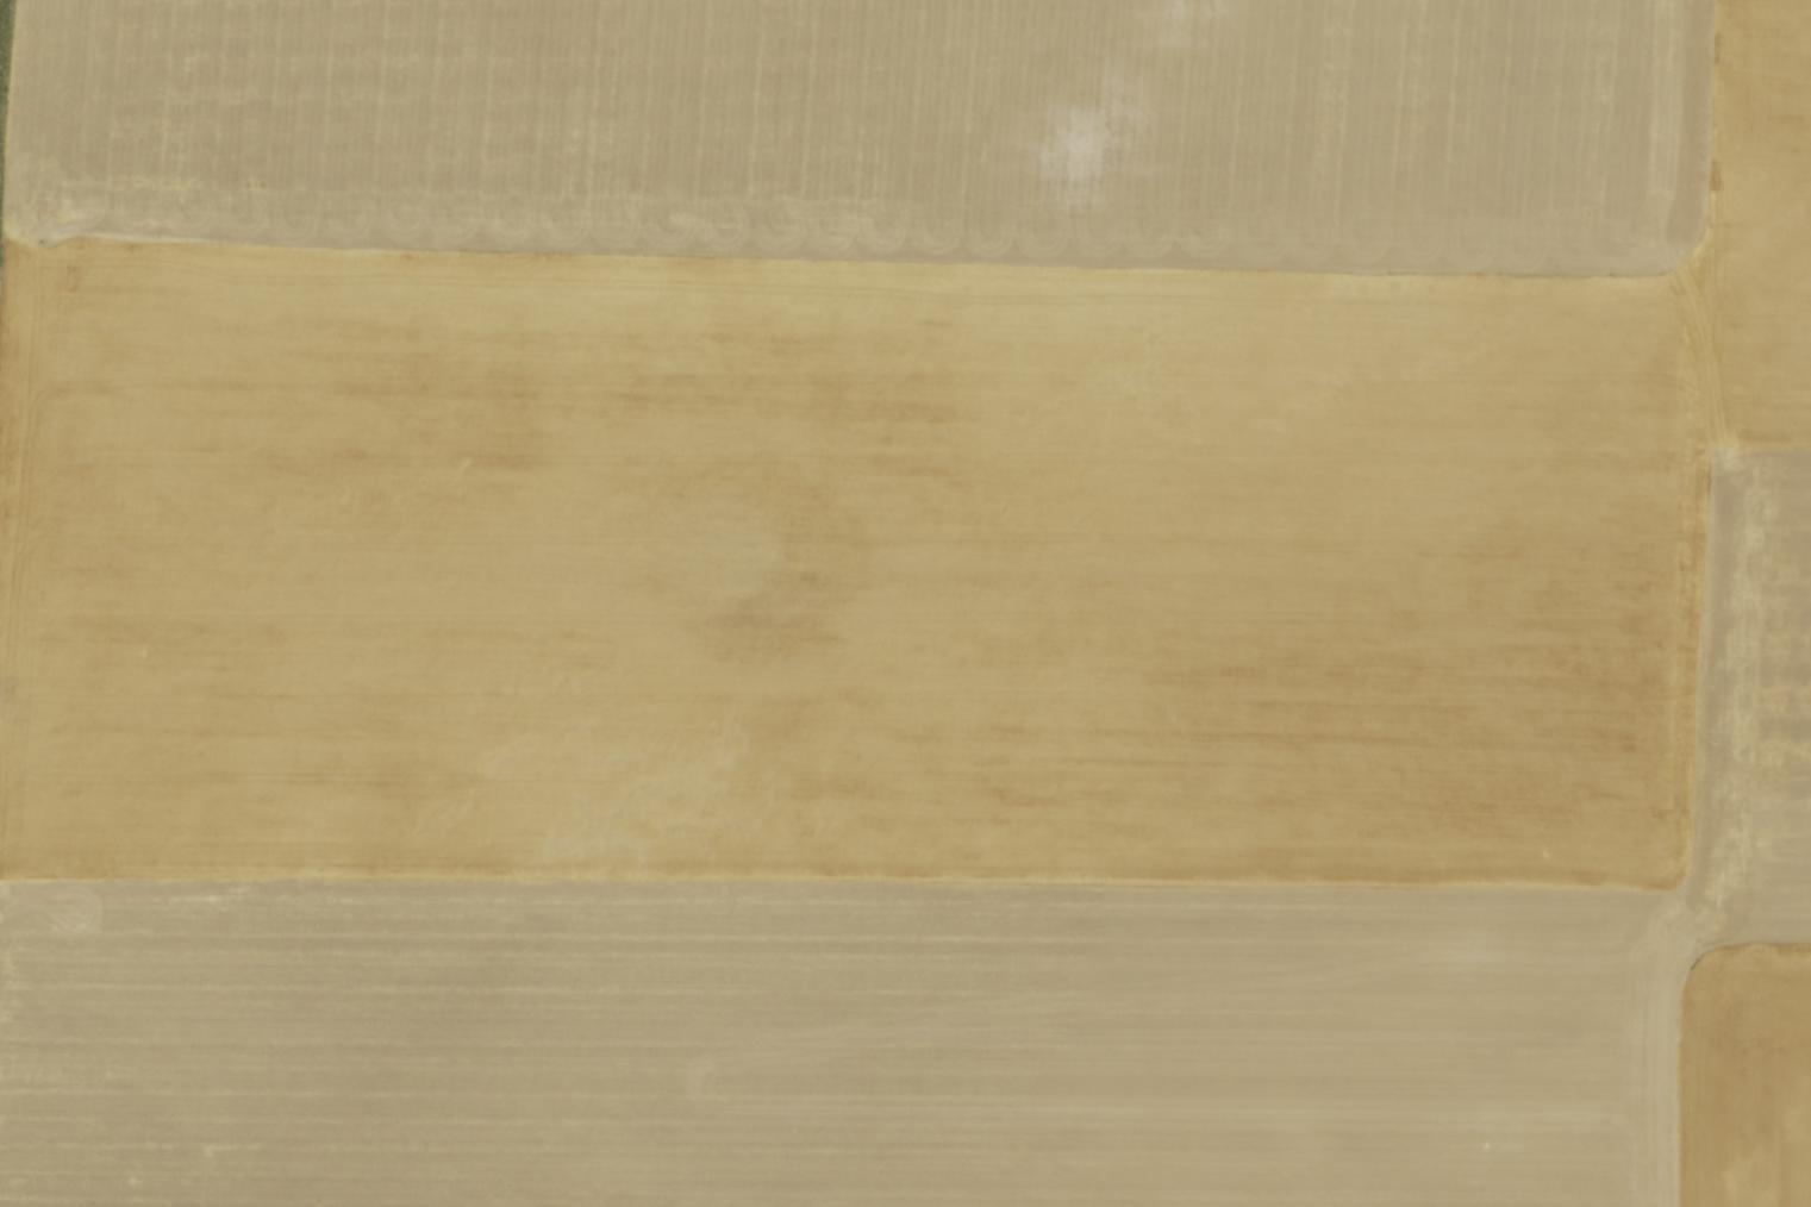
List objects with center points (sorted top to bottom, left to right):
crop: (905, 603)

